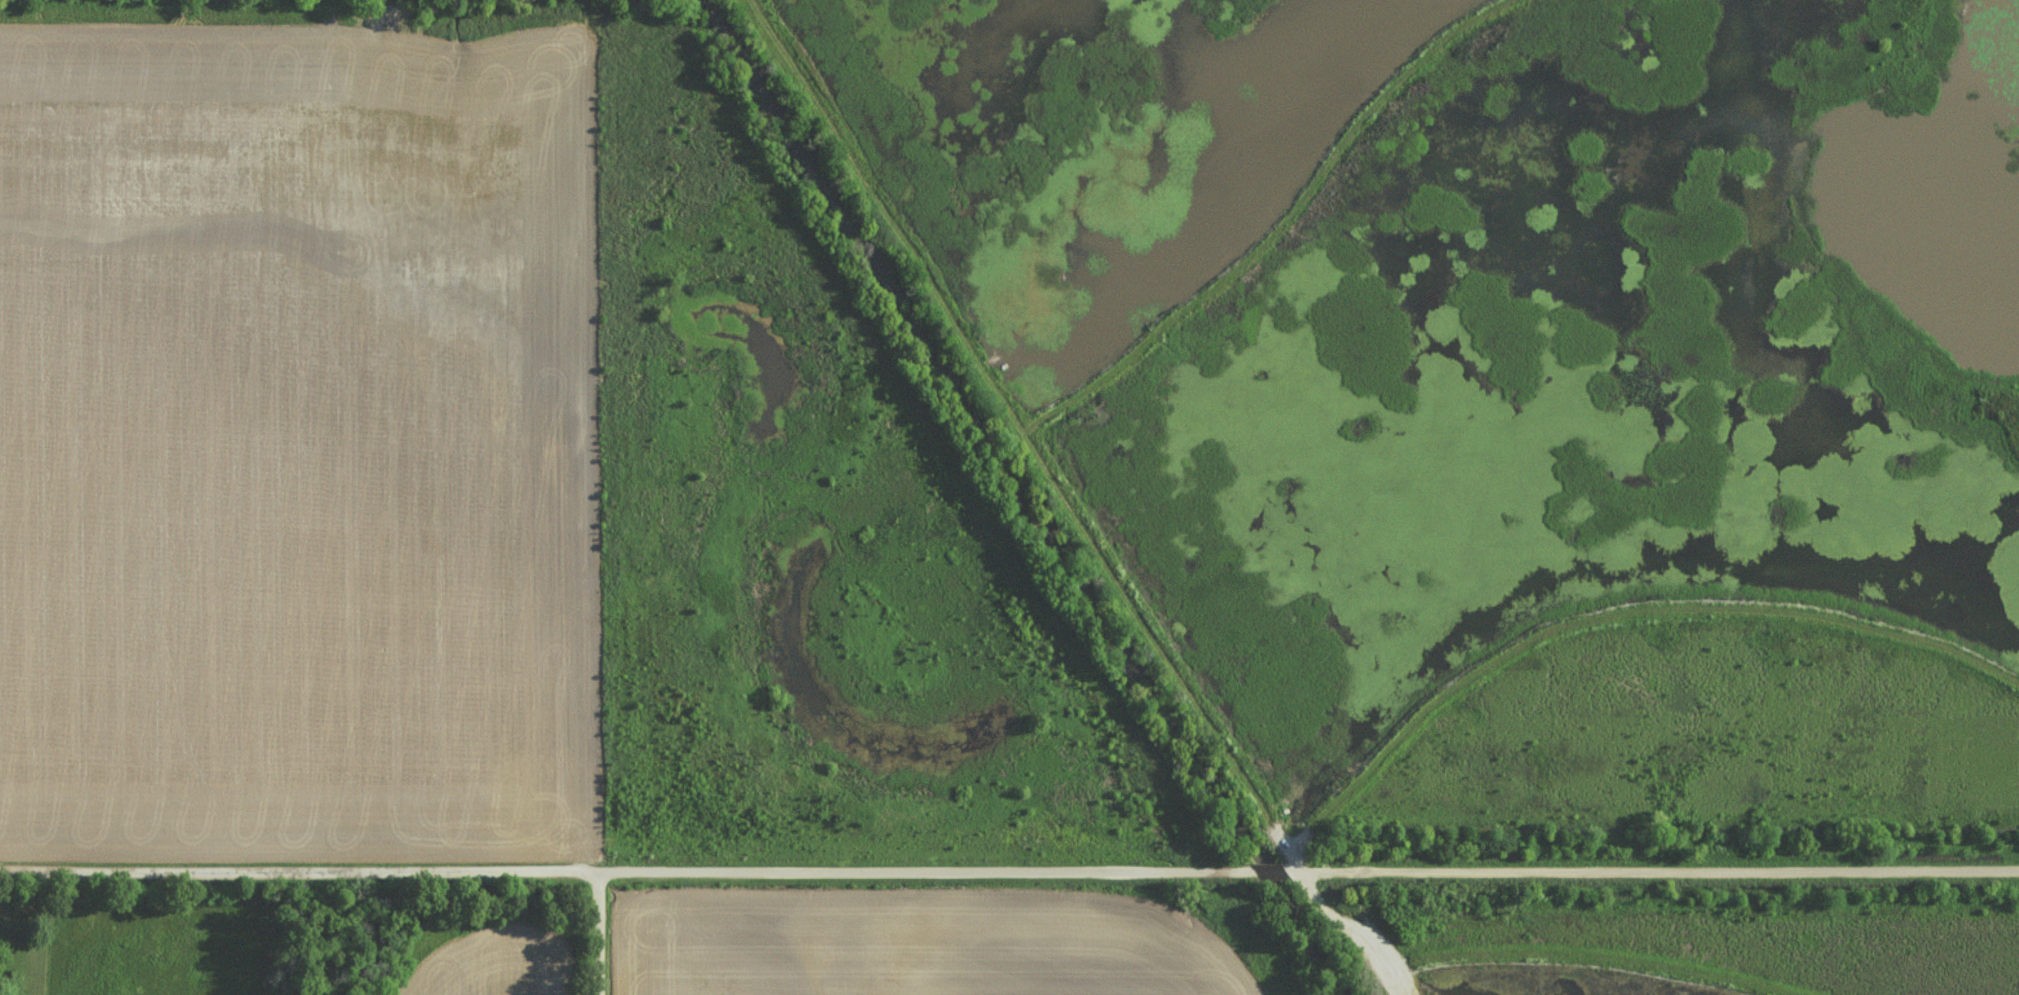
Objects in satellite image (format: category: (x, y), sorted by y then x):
parking lot: (1290, 844)
road: (1009, 873)
road: (598, 930)

